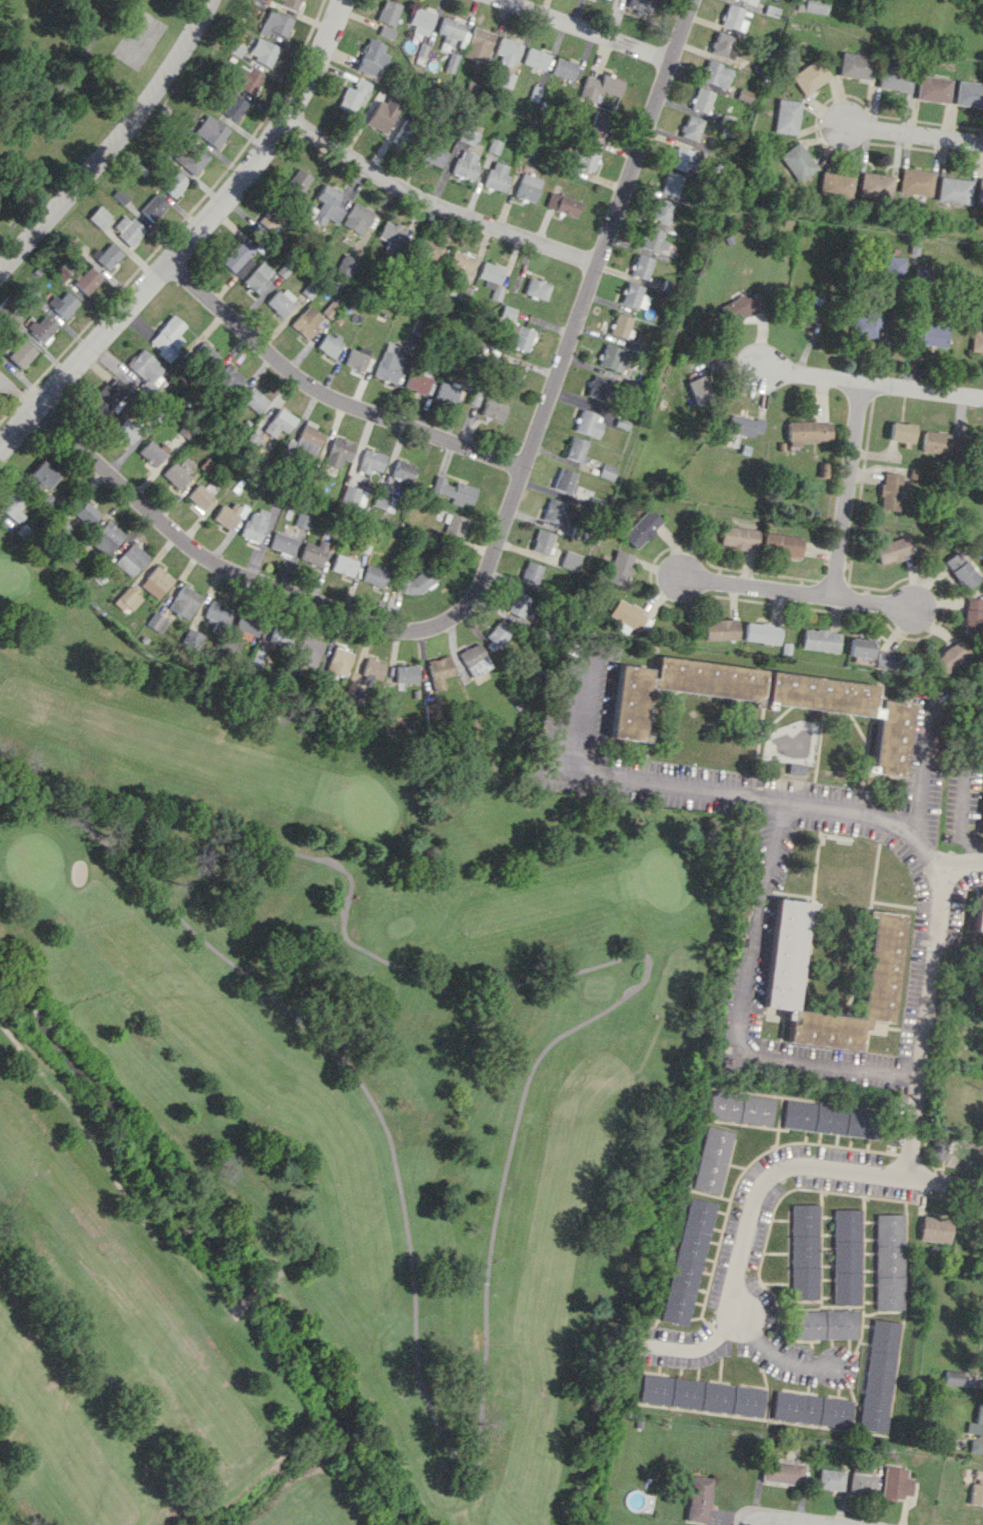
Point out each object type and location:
building: (747, 1)
building: (289, 2)
building: (638, 5)
building: (812, 6)
building: (387, 12)
building: (731, 17)
building: (420, 21)
building: (274, 23)
road: (588, 29)
building: (449, 30)
building: (385, 31)
building: (477, 44)
building: (720, 45)
building: (262, 51)
building: (506, 52)
building: (370, 57)
building: (535, 58)
building: (853, 65)
building: (562, 69)
building: (714, 73)
road: (67, 75)
building: (807, 76)
building: (893, 78)
building: (245, 79)
building: (598, 87)
building: (932, 88)
building: (968, 93)
building: (352, 96)
building: (700, 99)
park: (79, 100)
building: (233, 107)
building: (382, 114)
building: (784, 116)
building: (596, 127)
building: (689, 127)
building: (210, 130)
building: (404, 132)
road: (915, 133)
building: (468, 137)
road: (113, 141)
building: (493, 146)
building: (431, 155)
building: (584, 157)
building: (683, 158)
building: (190, 159)
building: (796, 161)
building: (465, 164)
building: (495, 176)
building: (298, 181)
building: (915, 182)
building: (173, 183)
building: (669, 183)
building: (833, 183)
building: (876, 184)
building: (526, 187)
building: (953, 190)
building: (979, 190)
building: (120, 196)
road: (434, 201)
building: (561, 204)
building: (326, 205)
building: (152, 207)
building: (659, 210)
building: (99, 216)
building: (268, 218)
building: (356, 218)
building: (127, 229)
road: (191, 234)
building: (390, 236)
building: (652, 239)
building: (424, 247)
building: (108, 256)
building: (237, 258)
building: (895, 264)
building: (345, 265)
building: (458, 265)
building: (640, 266)
building: (490, 272)
building: (257, 277)
building: (86, 280)
building: (536, 288)
building: (458, 290)
building: (495, 292)
building: (632, 296)
building: (281, 301)
building: (62, 304)
building: (740, 306)
building: (811, 308)
building: (329, 310)
building: (506, 312)
road: (578, 315)
building: (306, 321)
building: (865, 324)
building: (619, 325)
building: (41, 327)
building: (931, 335)
building: (167, 337)
building: (522, 338)
building: (978, 340)
building: (328, 344)
building: (20, 353)
building: (204, 355)
building: (356, 357)
building: (611, 357)
building: (388, 363)
building: (145, 368)
building: (508, 373)
building: (228, 378)
building: (416, 380)
building: (597, 387)
road: (875, 387)
park: (9, 388)
building: (697, 388)
road: (15, 392)
road: (333, 392)
building: (446, 392)
building: (108, 396)
building: (253, 399)
building: (493, 408)
building: (279, 423)
building: (587, 423)
building: (743, 425)
building: (127, 430)
building: (900, 431)
building: (808, 432)
building: (305, 440)
building: (936, 442)
building: (575, 448)
building: (152, 451)
building: (339, 451)
building: (371, 460)
building: (402, 470)
building: (42, 474)
building: (174, 475)
building: (564, 479)
building: (454, 490)
building: (890, 491)
road: (851, 493)
building: (353, 494)
building: (199, 496)
building: (384, 501)
building: (13, 506)
building: (553, 510)
building: (86, 513)
building: (228, 514)
building: (302, 520)
building: (255, 524)
building: (454, 525)
building: (641, 528)
building: (739, 537)
building: (105, 538)
building: (542, 541)
building: (281, 543)
building: (783, 544)
building: (892, 549)
building: (314, 552)
building: (131, 559)
building: (569, 560)
road: (220, 562)
building: (343, 564)
building: (618, 568)
building: (961, 569)
building: (531, 572)
building: (374, 576)
building: (156, 582)
road: (802, 594)
building: (127, 599)
building: (184, 601)
building: (519, 604)
building: (216, 613)
building: (626, 614)
building: (973, 616)
building: (156, 622)
building: (247, 624)
building: (720, 630)
building: (761, 632)
building: (497, 633)
building: (277, 635)
building: (190, 637)
building: (145, 639)
building: (819, 640)
building: (860, 647)
building: (309, 651)
building: (950, 656)
building: (474, 659)
building: (886, 660)
building: (338, 661)
building: (371, 671)
building: (439, 671)
building: (404, 675)
building: (763, 699)
road: (925, 777)
road: (732, 794)
building: (982, 826)
road: (963, 862)
building: (978, 914)
building: (784, 953)
building: (881, 961)
road: (742, 1014)
road: (925, 1020)
park: (315, 1102)
building: (739, 1107)
building: (828, 1119)
building: (937, 1149)
building: (711, 1159)
road: (760, 1185)
building: (935, 1229)
building: (804, 1251)
building: (846, 1256)
building: (687, 1261)
building: (889, 1261)
building: (826, 1324)
road: (775, 1356)
building: (880, 1375)
building: (952, 1377)
building: (702, 1395)
building: (813, 1409)
building: (976, 1423)
building: (976, 1446)
building: (784, 1472)
building: (978, 1476)
building: (831, 1479)
building: (862, 1480)
building: (896, 1483)
building: (976, 1494)
building: (700, 1499)
road: (746, 1520)
road: (791, 1520)

